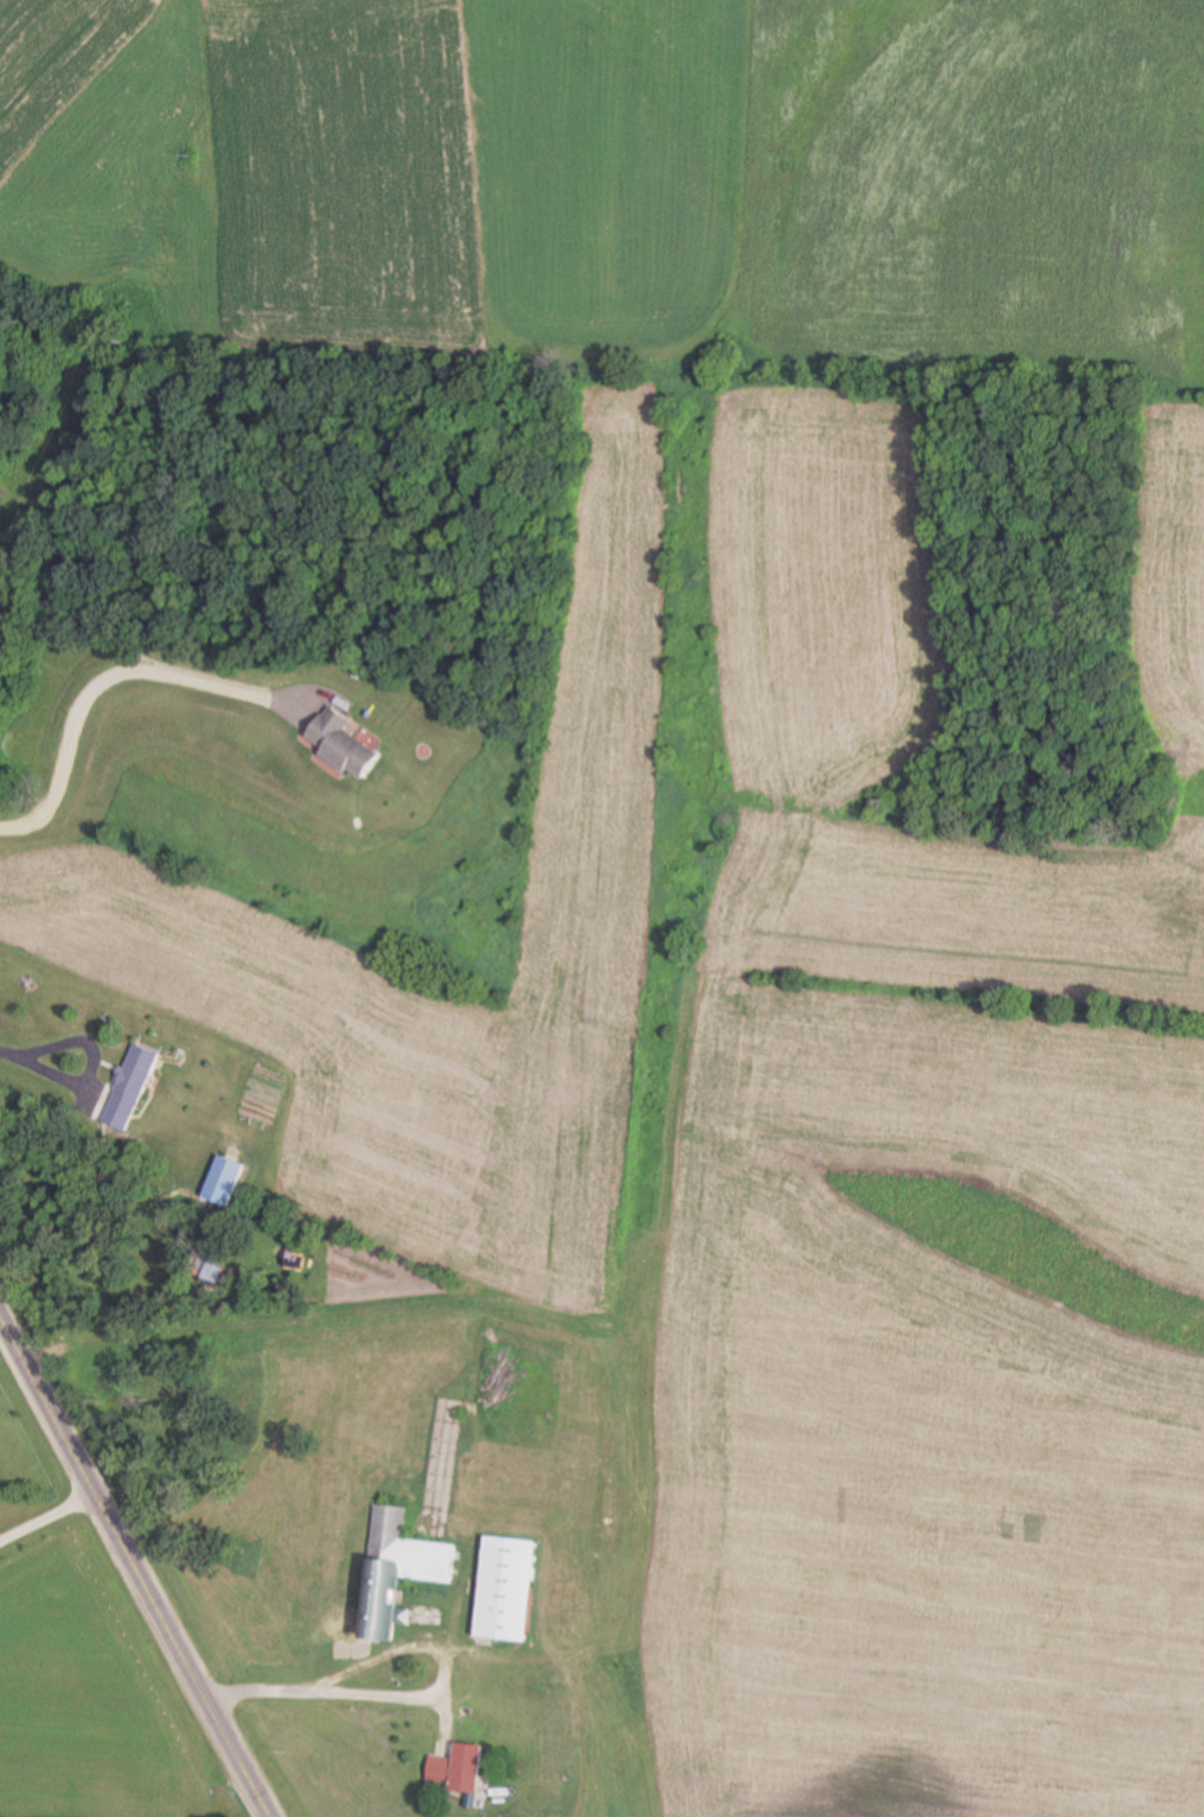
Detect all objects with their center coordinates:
building: (344, 744)
building: (123, 1088)
building: (224, 1182)
road: (53, 1527)
road: (139, 1557)
building: (398, 1570)
building: (507, 1589)
road: (427, 1696)
building: (449, 1777)

